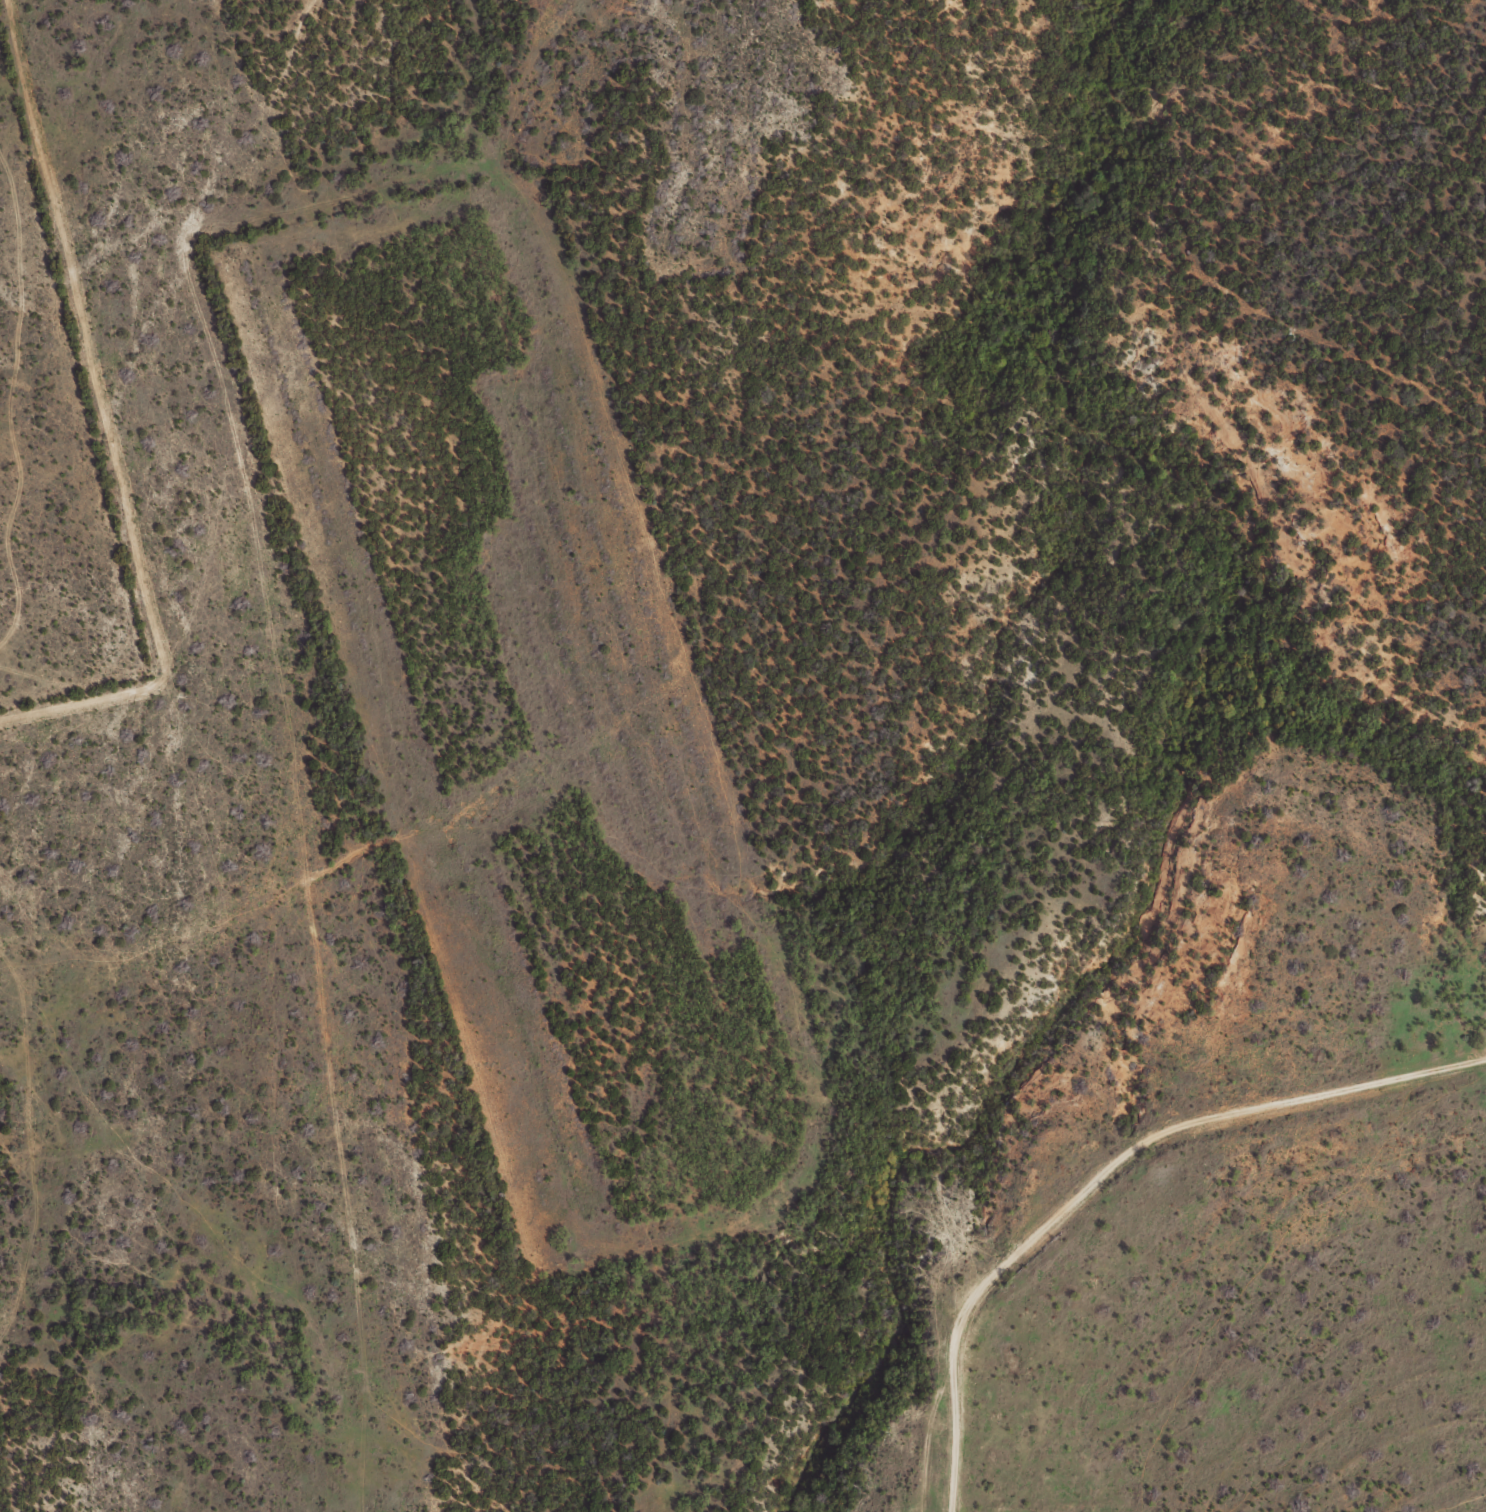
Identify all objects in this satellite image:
road: (195, 596)
road: (1105, 1171)
road: (288, 1217)
road: (927, 1435)

